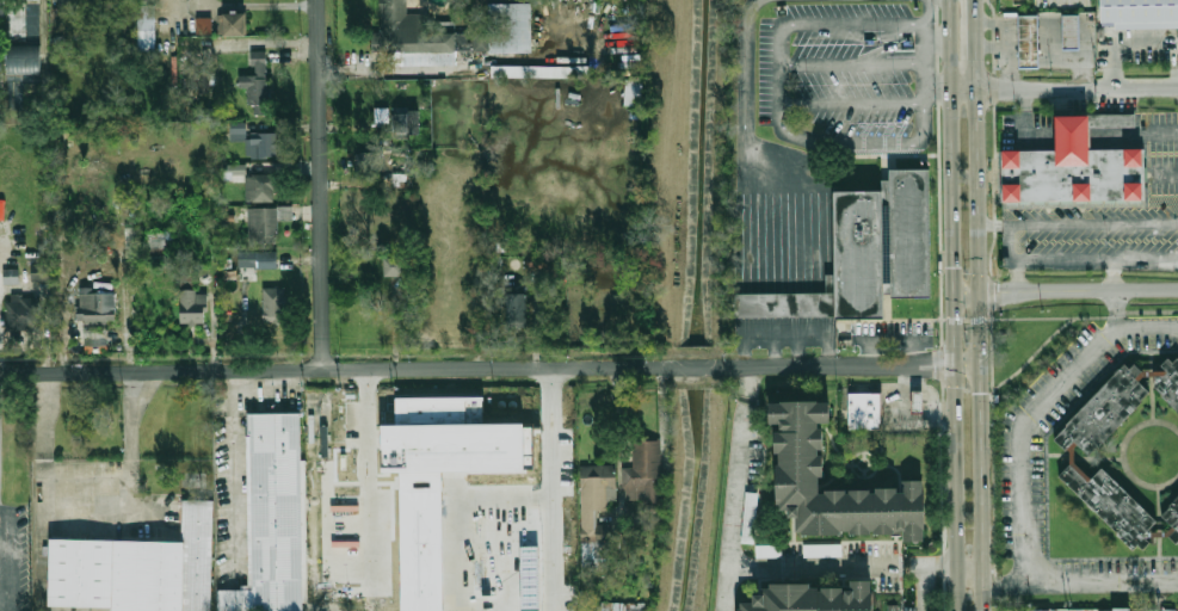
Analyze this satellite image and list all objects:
building: (67, 10)
building: (0, 11)
building: (1139, 12)
building: (147, 19)
building: (31, 20)
road: (991, 21)
building: (203, 25)
building: (235, 25)
building: (507, 29)
building: (1071, 31)
road: (43, 36)
building: (415, 37)
road: (880, 37)
building: (1029, 41)
road: (991, 44)
road: (889, 47)
road: (924, 49)
road: (1084, 53)
road: (1010, 56)
building: (24, 58)
road: (852, 64)
road: (450, 68)
road: (744, 68)
parking lot: (835, 68)
building: (541, 72)
building: (258, 84)
road: (937, 90)
road: (1063, 90)
building: (13, 95)
road: (782, 95)
building: (633, 97)
road: (851, 101)
building: (381, 116)
building: (1111, 121)
building: (406, 122)
road: (1135, 130)
road: (1074, 131)
road: (1037, 132)
building: (1074, 134)
building: (253, 142)
building: (368, 163)
building: (235, 169)
building: (1075, 174)
parking lot: (1162, 175)
building: (400, 180)
road: (320, 184)
building: (263, 189)
road: (994, 197)
road: (827, 218)
road: (88, 221)
road: (1092, 223)
building: (266, 224)
road: (992, 224)
building: (131, 242)
building: (156, 243)
building: (884, 243)
road: (739, 246)
road: (746, 246)
road: (753, 246)
road: (1007, 246)
road: (776, 249)
road: (769, 251)
road: (760, 252)
road: (790, 253)
road: (797, 253)
road: (806, 253)
road: (783, 255)
road: (820, 258)
road: (1097, 258)
building: (247, 259)
building: (270, 260)
road: (813, 260)
building: (395, 266)
traffic signals: (954, 267)
building: (42, 273)
road: (1112, 273)
building: (11, 277)
road: (1017, 277)
road: (1147, 288)
road: (976, 290)
road: (1036, 292)
traffic signals: (999, 296)
building: (193, 304)
building: (789, 304)
road: (954, 304)
building: (276, 305)
road: (939, 305)
building: (98, 307)
building: (518, 309)
building: (24, 314)
road: (1060, 317)
road: (1146, 327)
parking lot: (890, 333)
building: (94, 337)
road: (789, 338)
road: (816, 338)
road: (766, 339)
road: (1034, 353)
road: (795, 357)
road: (827, 357)
road: (744, 358)
road: (772, 358)
road: (851, 364)
traffic signals: (932, 364)
road: (690, 365)
road: (327, 369)
road: (750, 382)
building: (1168, 382)
traffic signals: (980, 393)
building: (920, 401)
gas station: (920, 401)
building: (866, 409)
building: (1106, 411)
road: (1029, 421)
building: (803, 450)
road: (553, 455)
road: (236, 463)
building: (646, 471)
building: (440, 477)
building: (598, 489)
building: (1112, 504)
road: (733, 505)
building: (275, 517)
building: (750, 517)
building: (1171, 517)
road: (85, 519)
road: (520, 547)
building: (767, 550)
building: (824, 550)
parking lot: (20, 554)
road: (969, 563)
road: (824, 567)
building: (137, 569)
road: (923, 572)
road: (969, 581)
road: (1080, 586)
road: (985, 595)
building: (818, 597)
road: (401, 606)
building: (622, 606)
road: (381, 609)
building: (140, 610)
building: (892, 610)
building: (1094, 610)
building: (1129, 610)
building: (1152, 610)

